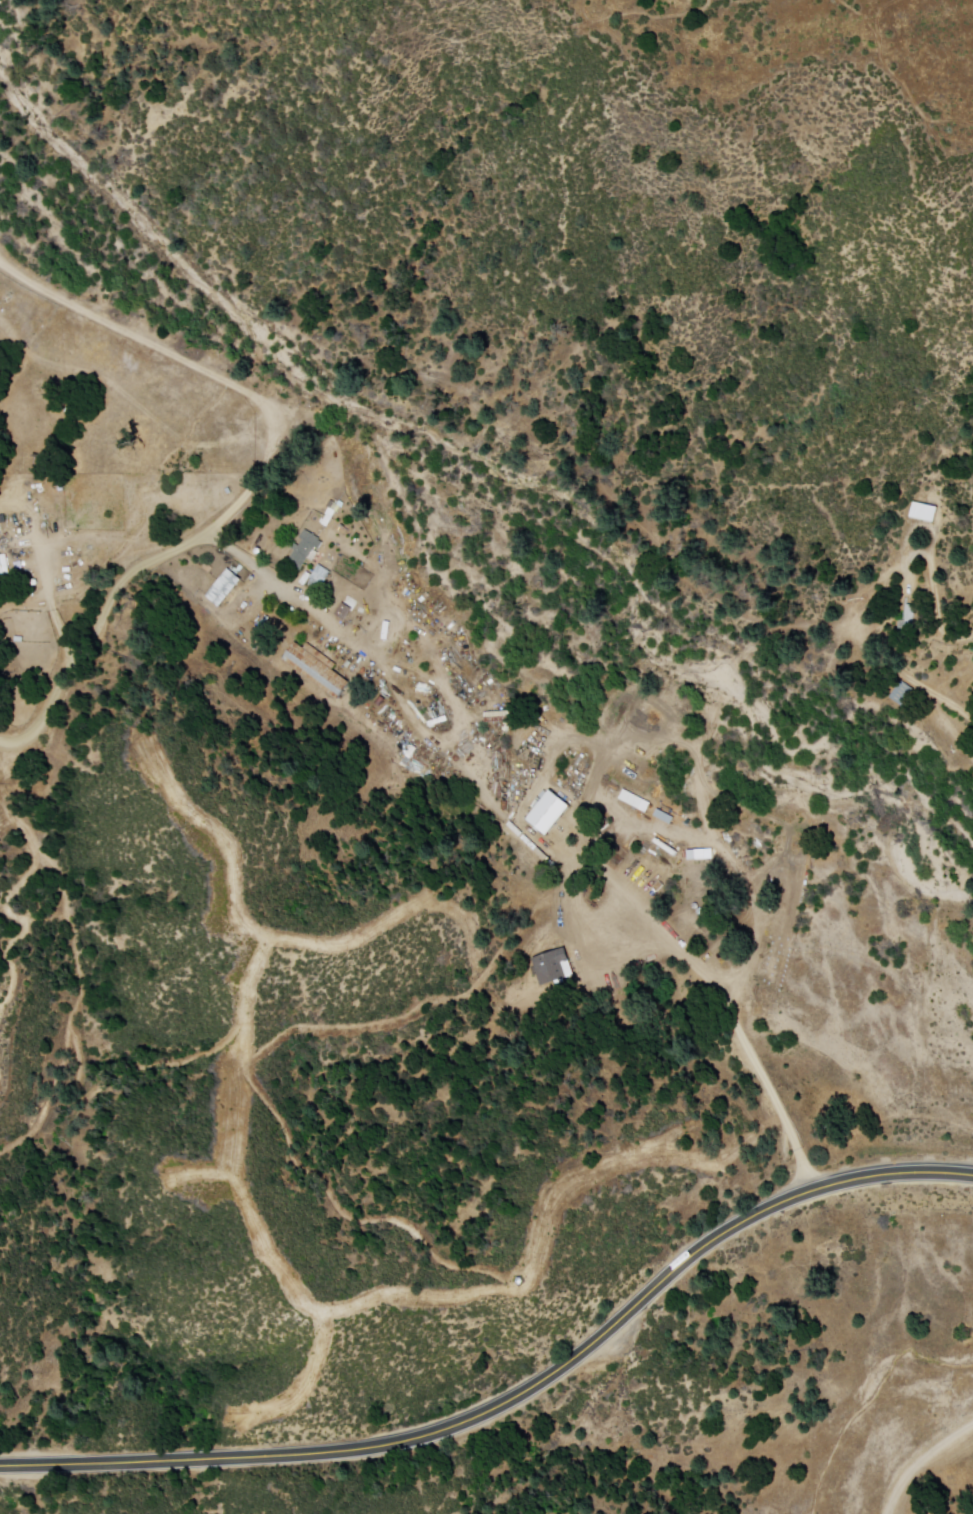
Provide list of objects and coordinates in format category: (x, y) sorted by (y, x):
road: (143, 339)
road: (138, 406)
building: (924, 516)
building: (305, 550)
building: (4, 570)
road: (130, 577)
building: (320, 579)
building: (225, 591)
building: (341, 613)
building: (908, 620)
building: (316, 666)
road: (920, 690)
building: (902, 694)
building: (548, 816)
road: (576, 857)
road: (516, 1395)
road: (920, 1458)

